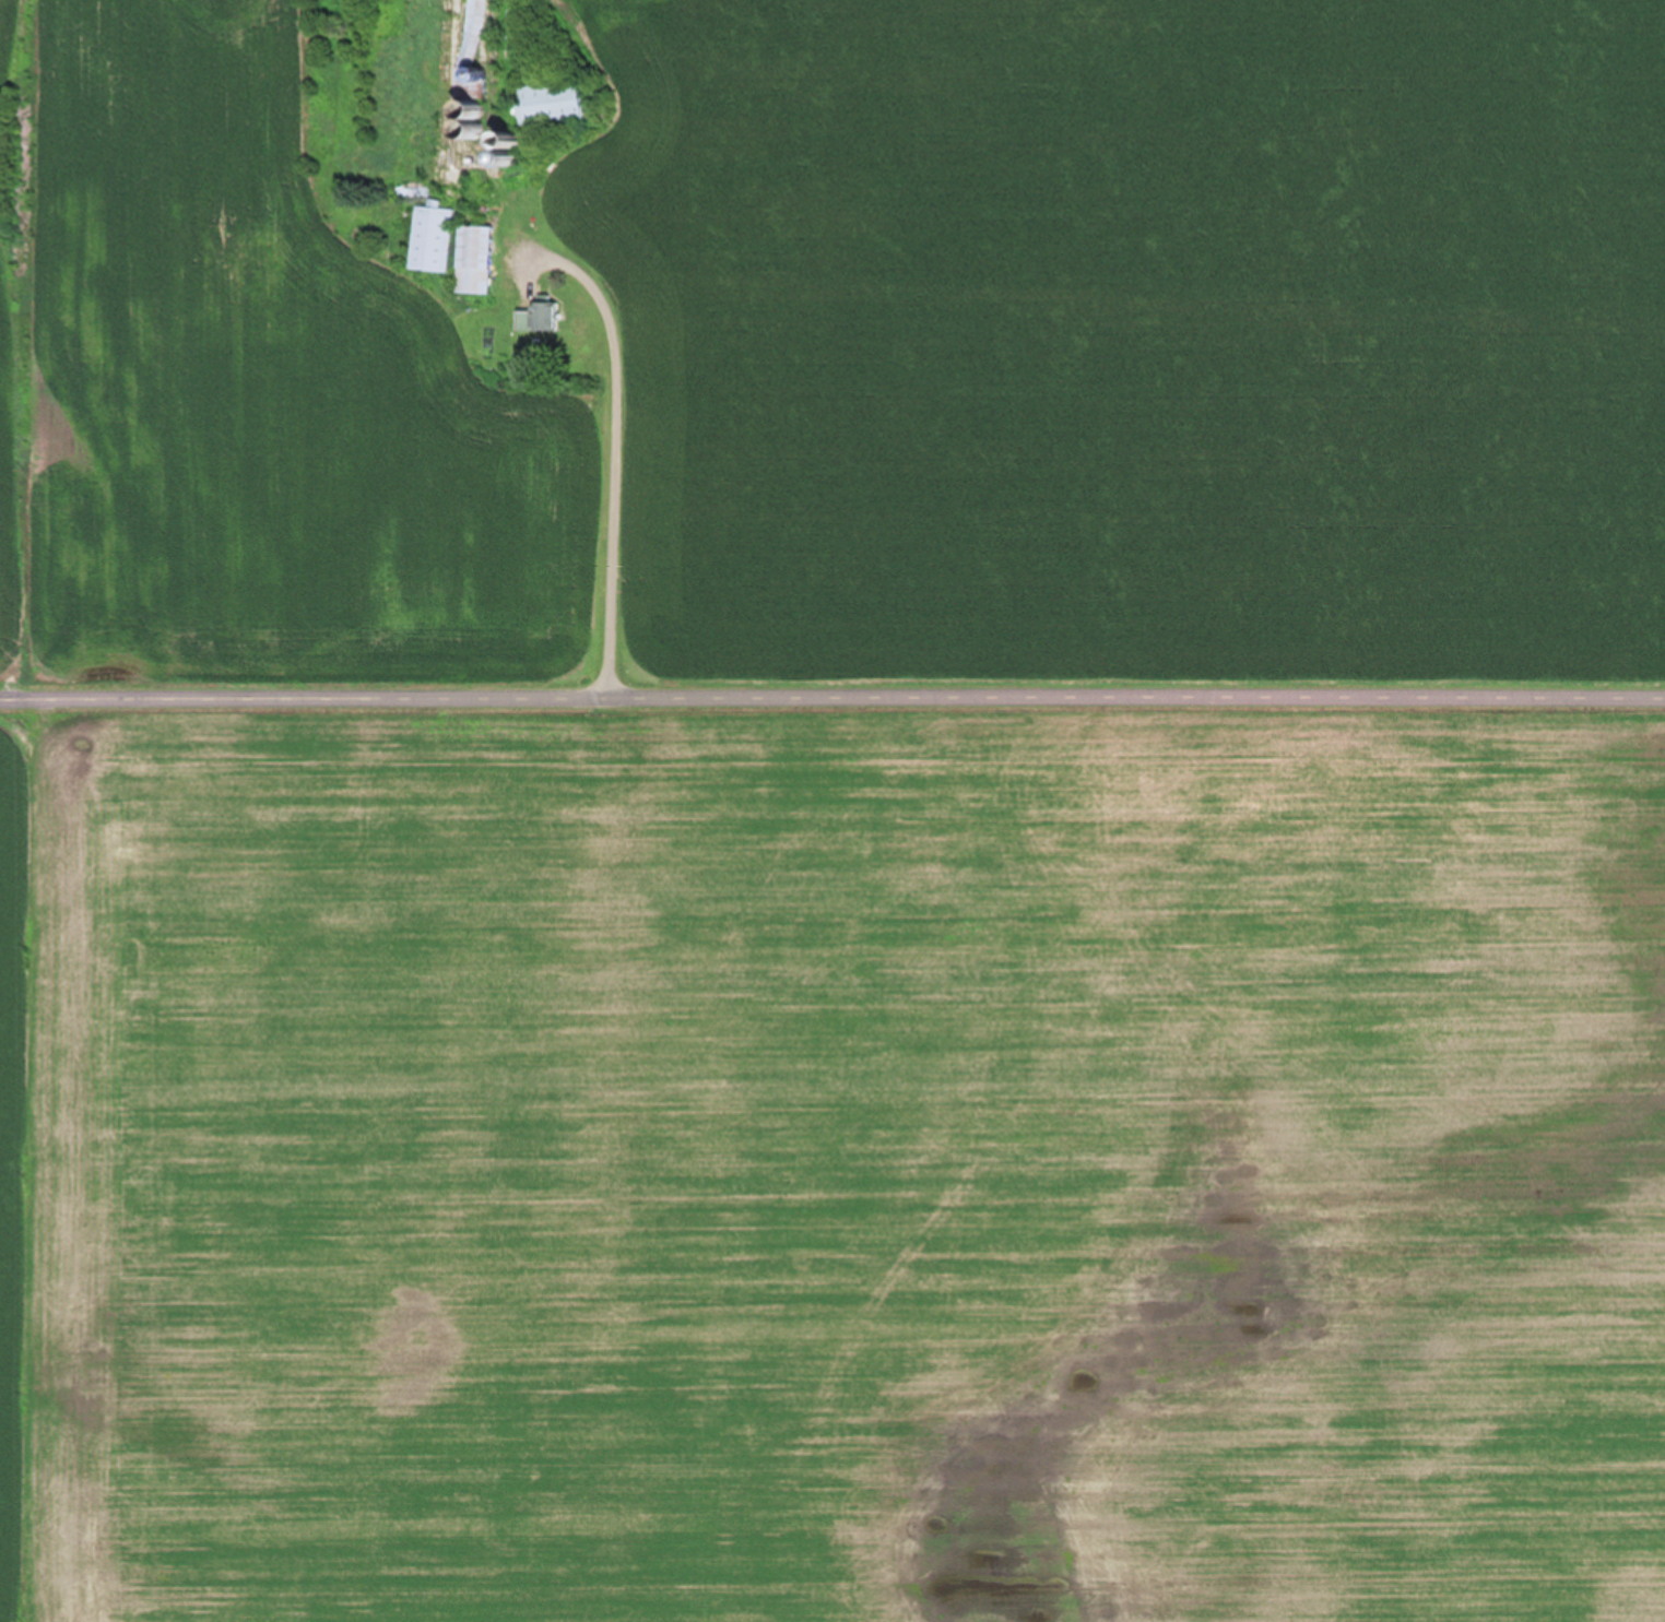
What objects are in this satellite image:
building: (548, 102)
building: (430, 239)
building: (472, 259)
building: (538, 317)
road: (613, 448)
road: (831, 697)

